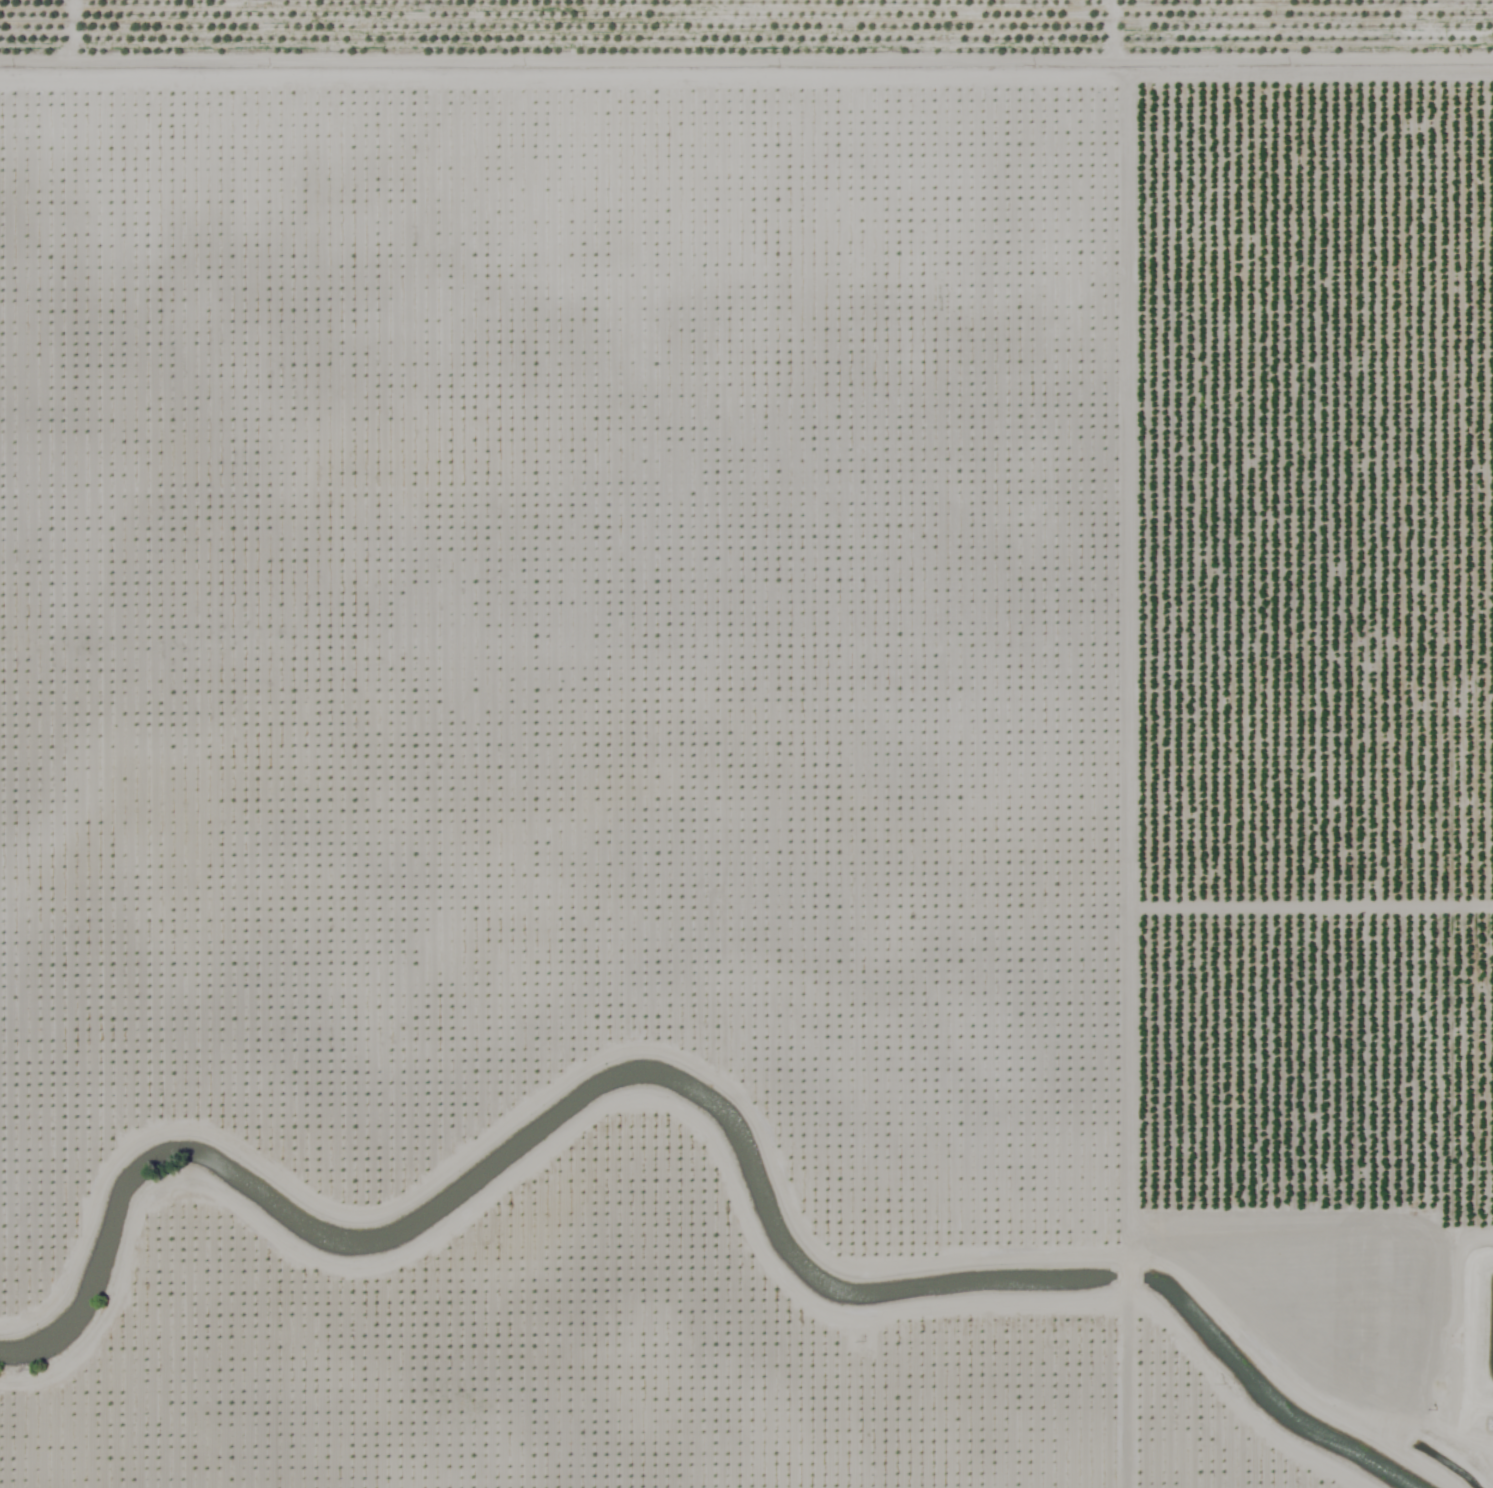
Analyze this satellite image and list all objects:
road: (1115, 618)
crop: (746, 744)
road: (749, 1014)

